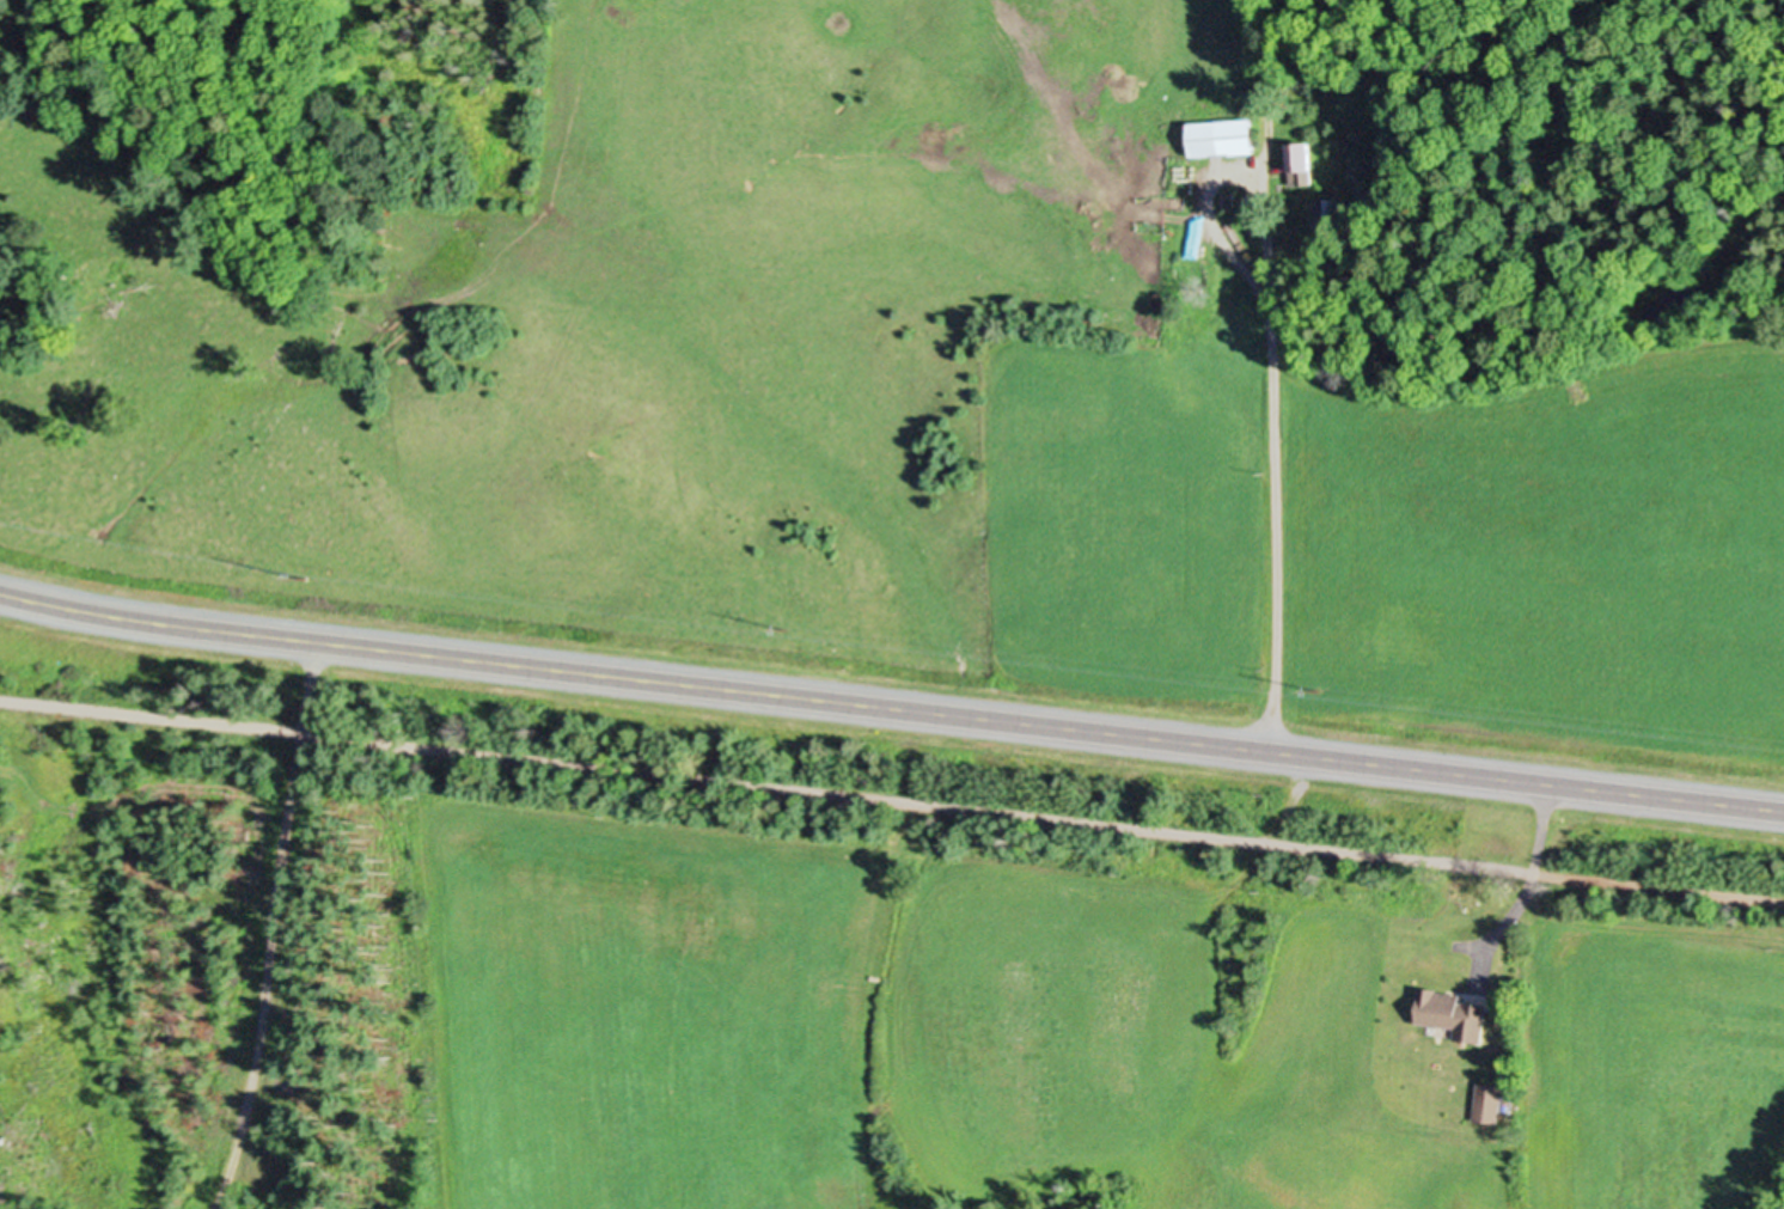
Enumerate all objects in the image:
road: (1269, 103)
building: (1230, 135)
building: (1306, 163)
building: (1333, 213)
road: (1272, 361)
power tower: (305, 575)
power tower: (787, 627)
power tower: (1320, 686)
road: (891, 703)
road: (891, 798)
road: (1539, 869)
road: (269, 926)
building: (1460, 1012)
building: (1495, 1101)

